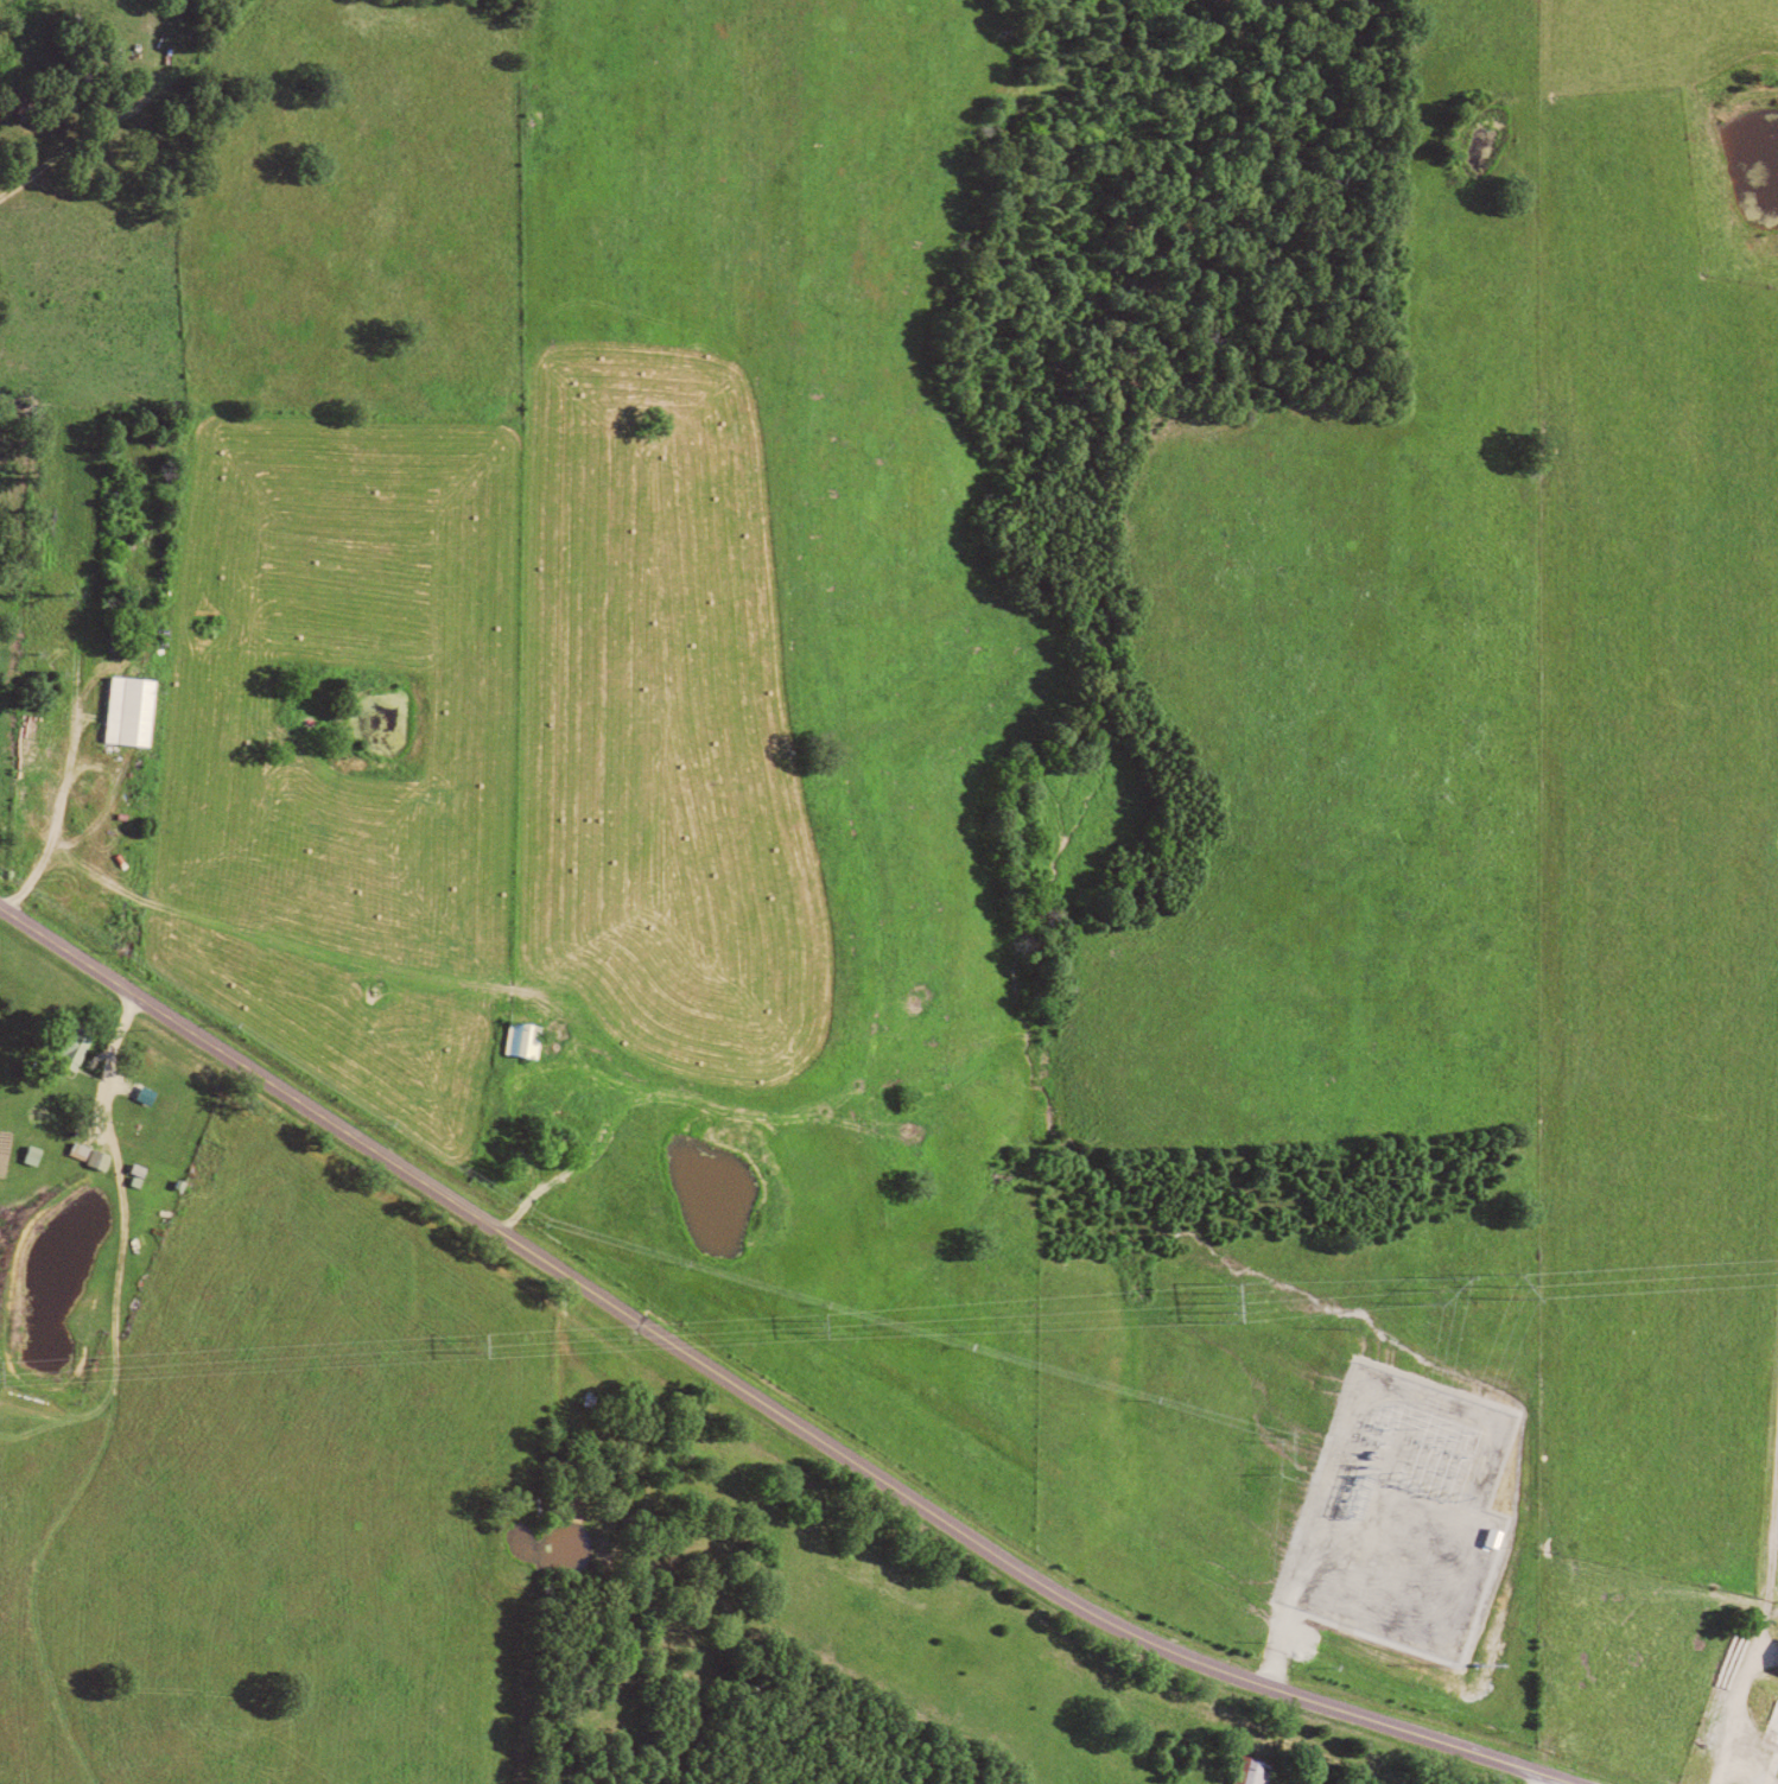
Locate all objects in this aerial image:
road: (109, 123)
building: (138, 711)
road: (77, 768)
road: (30, 885)
building: (80, 1046)
road: (108, 1073)
power tower: (1439, 1294)
power tower: (1513, 1294)
power tower: (1230, 1306)
road: (561, 1308)
power tower: (812, 1331)
power tower: (472, 1351)
road: (754, 1399)
road: (564, 1415)
power substation: (1399, 1515)
road: (1313, 1551)
building: (1259, 1771)
road: (1551, 1782)

